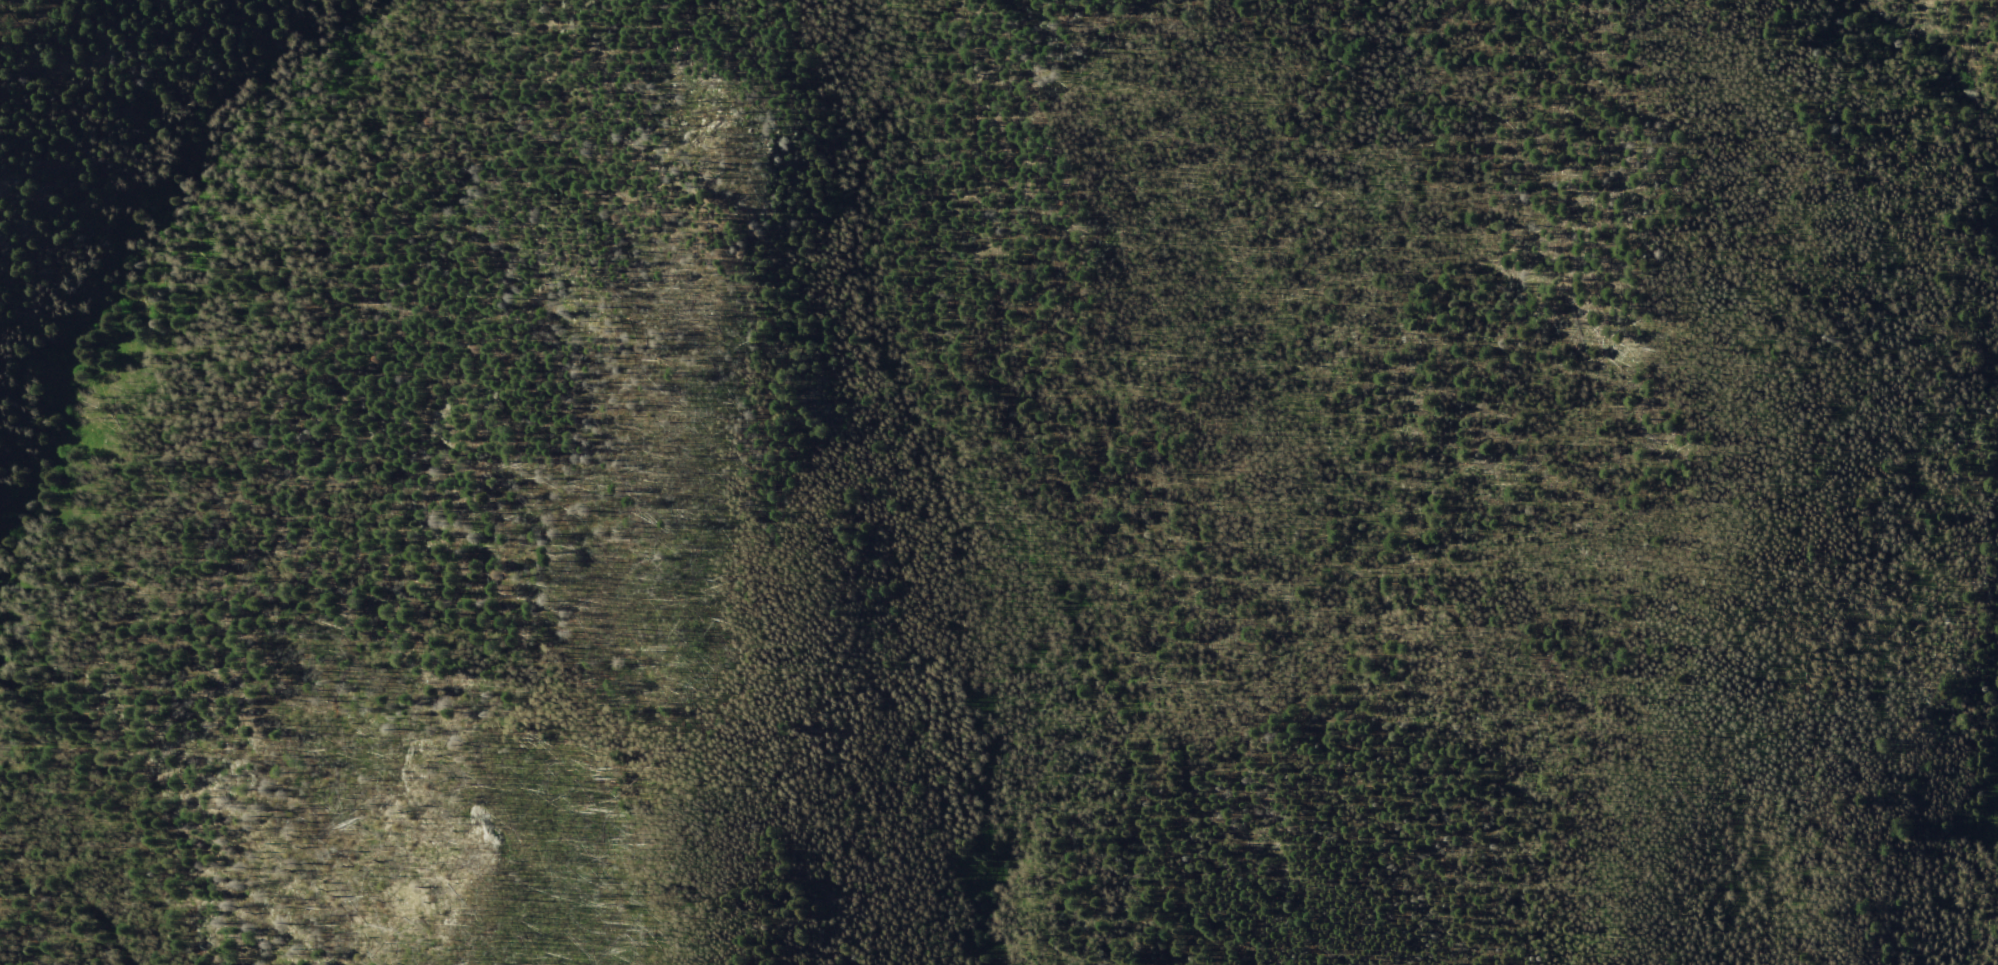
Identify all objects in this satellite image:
river: (1931, 99)

